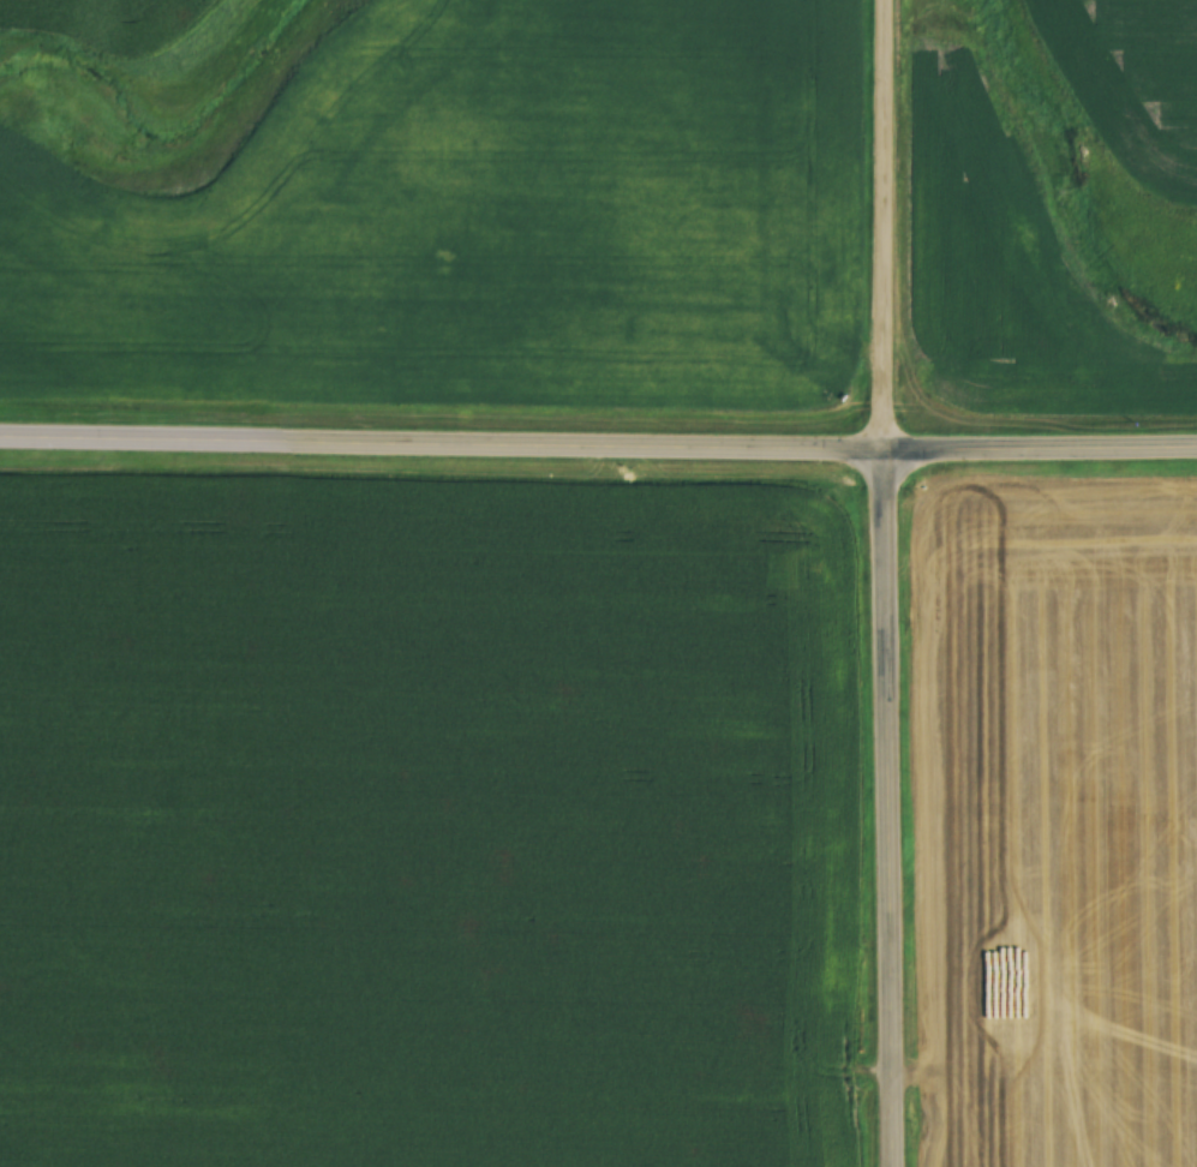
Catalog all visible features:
road: (893, 229)
road: (447, 451)
road: (1045, 456)
road: (897, 813)

